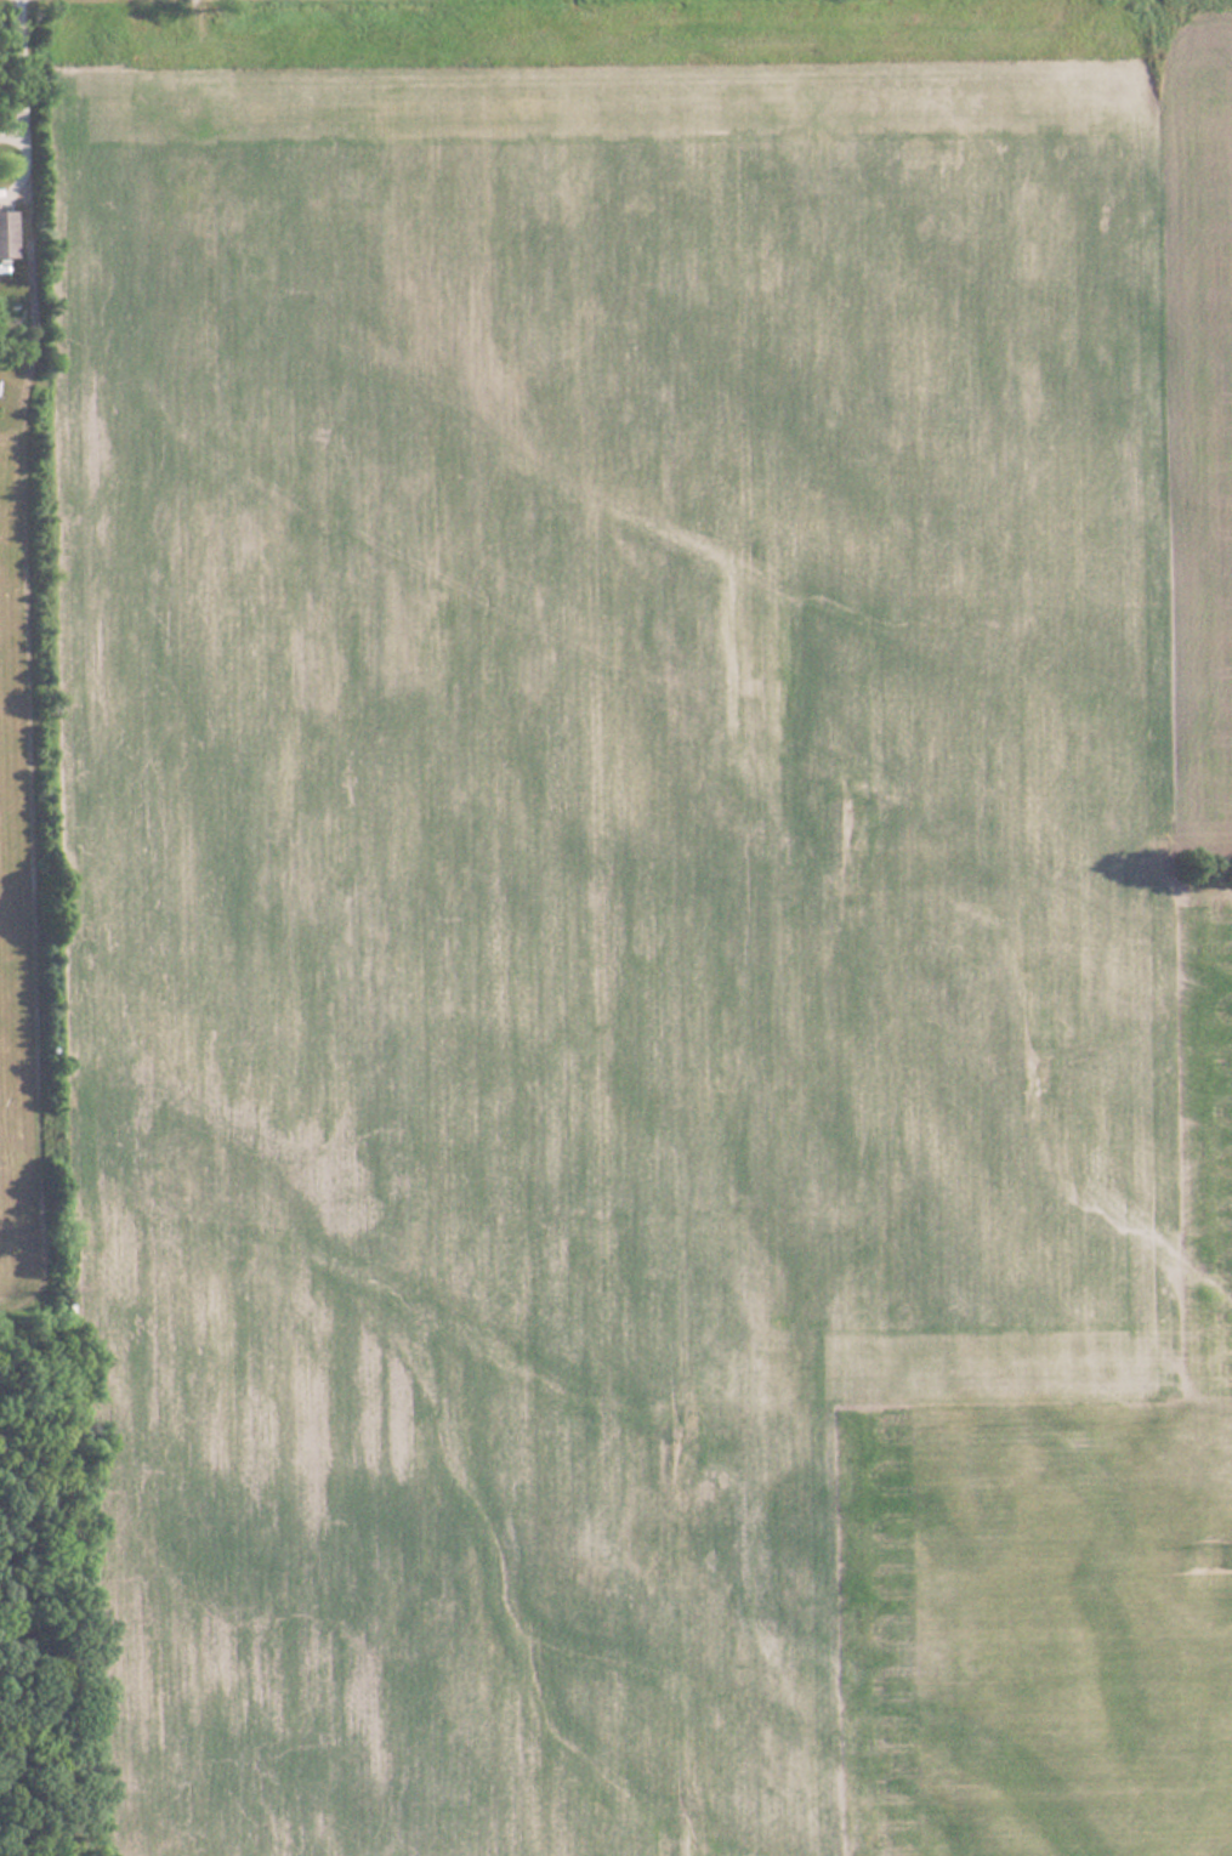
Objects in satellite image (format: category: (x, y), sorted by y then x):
road: (22, 69)
building: (5, 234)

